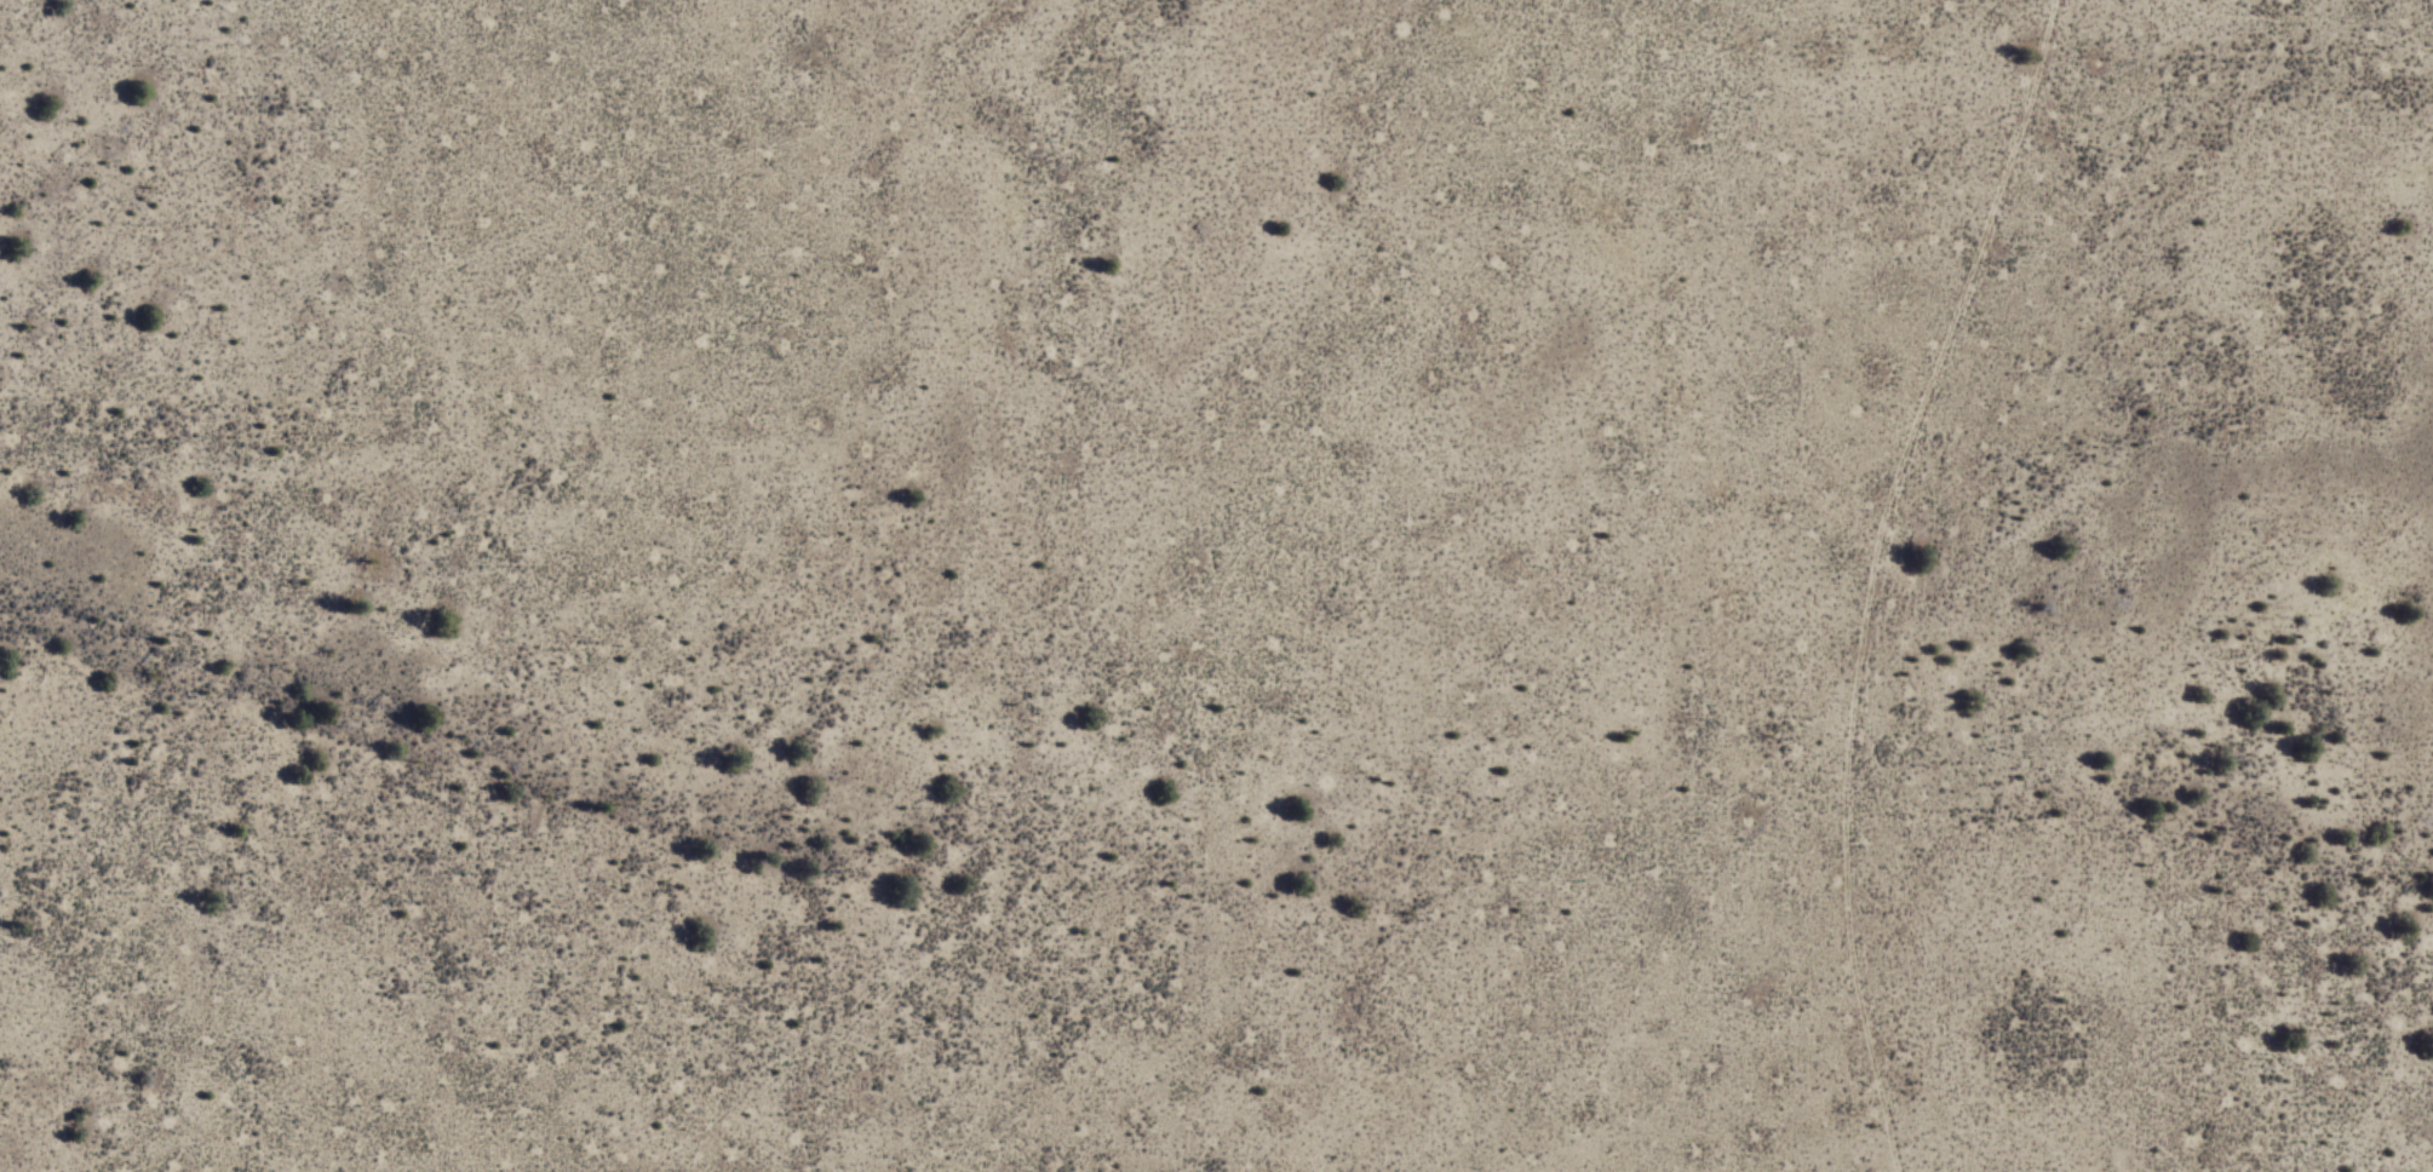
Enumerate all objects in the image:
road: (1872, 574)

